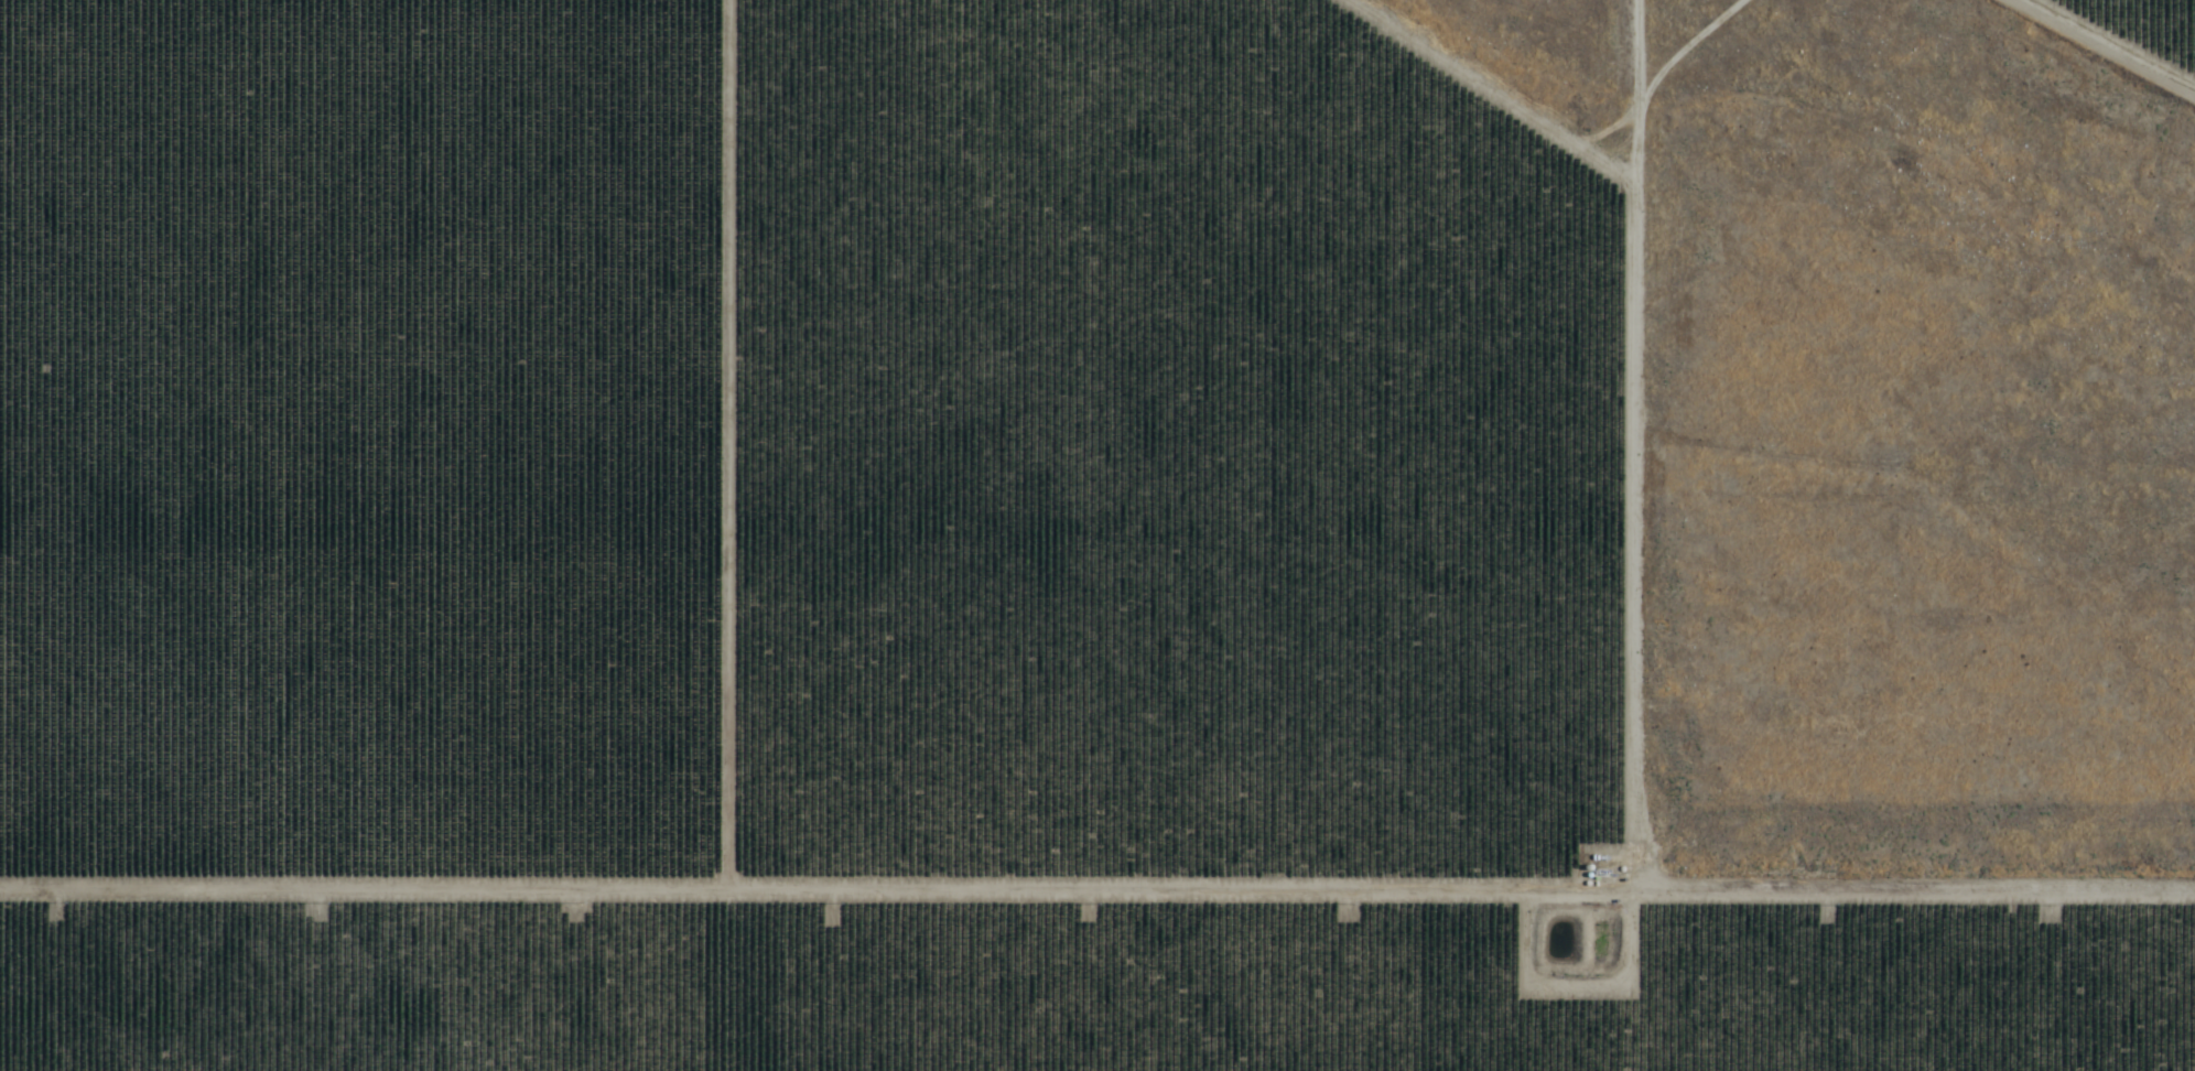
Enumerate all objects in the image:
crop: (2155, 21)
road: (2086, 52)
road: (1670, 534)
crop: (872, 565)
road: (836, 834)

